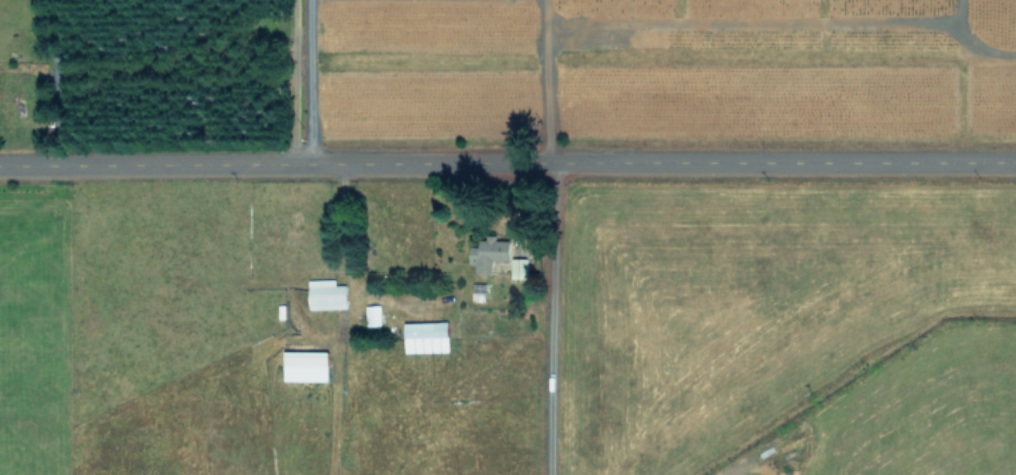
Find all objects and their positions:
road: (53, 78)
road: (542, 78)
road: (305, 79)
road: (508, 155)
building: (489, 253)
building: (519, 267)
building: (326, 294)
building: (372, 314)
road: (546, 316)
building: (425, 336)
building: (305, 365)

